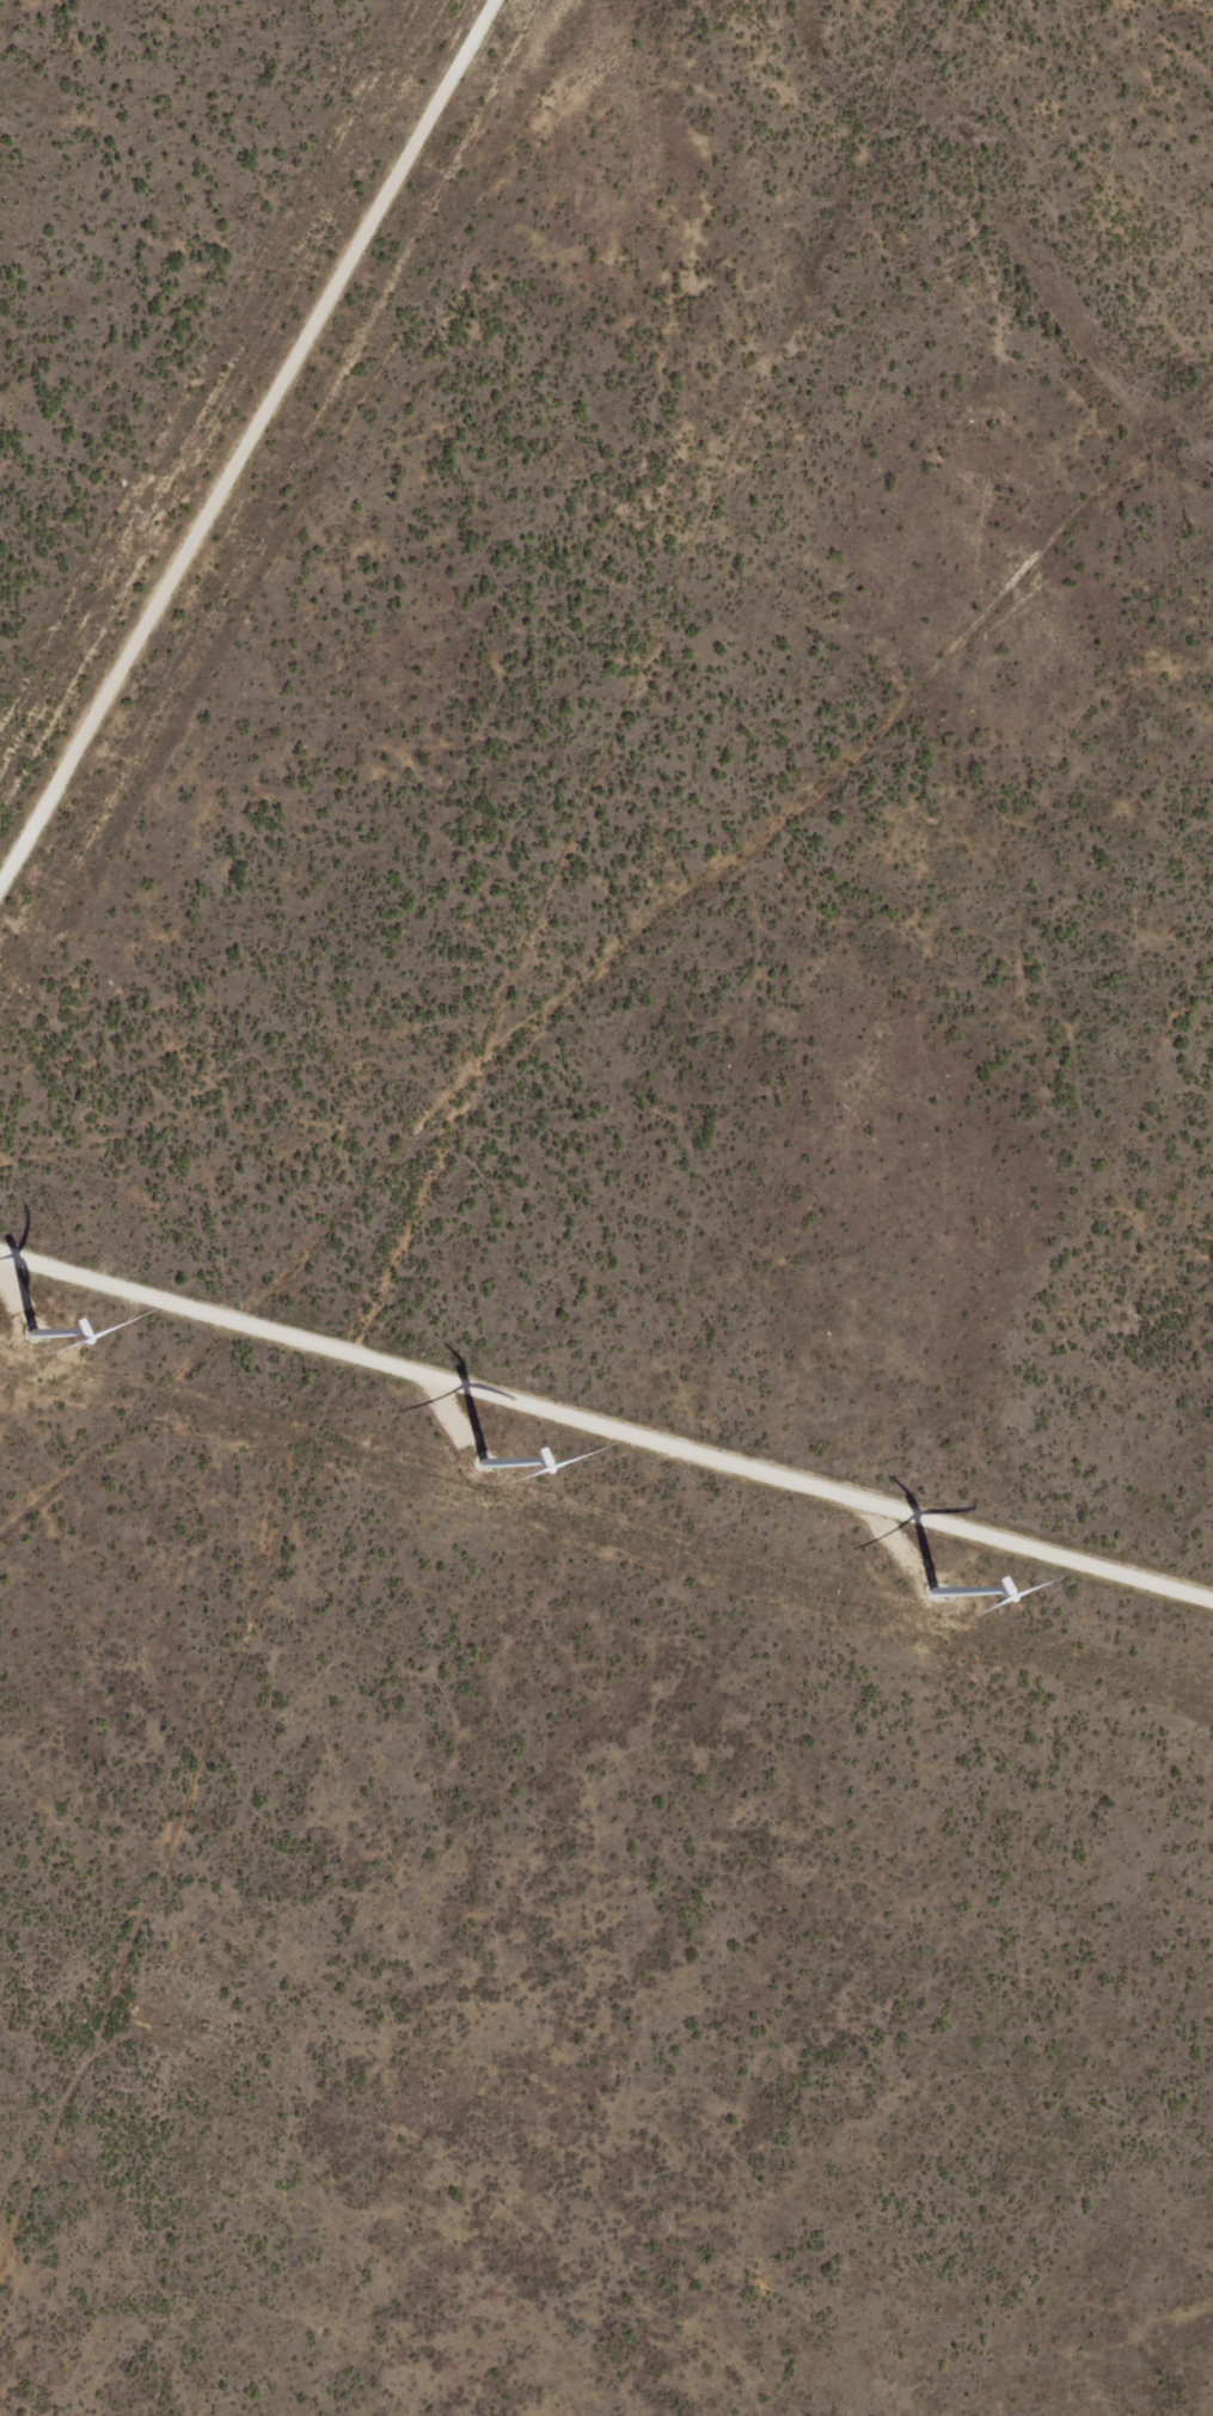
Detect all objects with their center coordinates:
road: (606, 1001)
wind turbine: (7, 1323)
wind turbine: (431, 1439)
wind turbine: (915, 1590)

